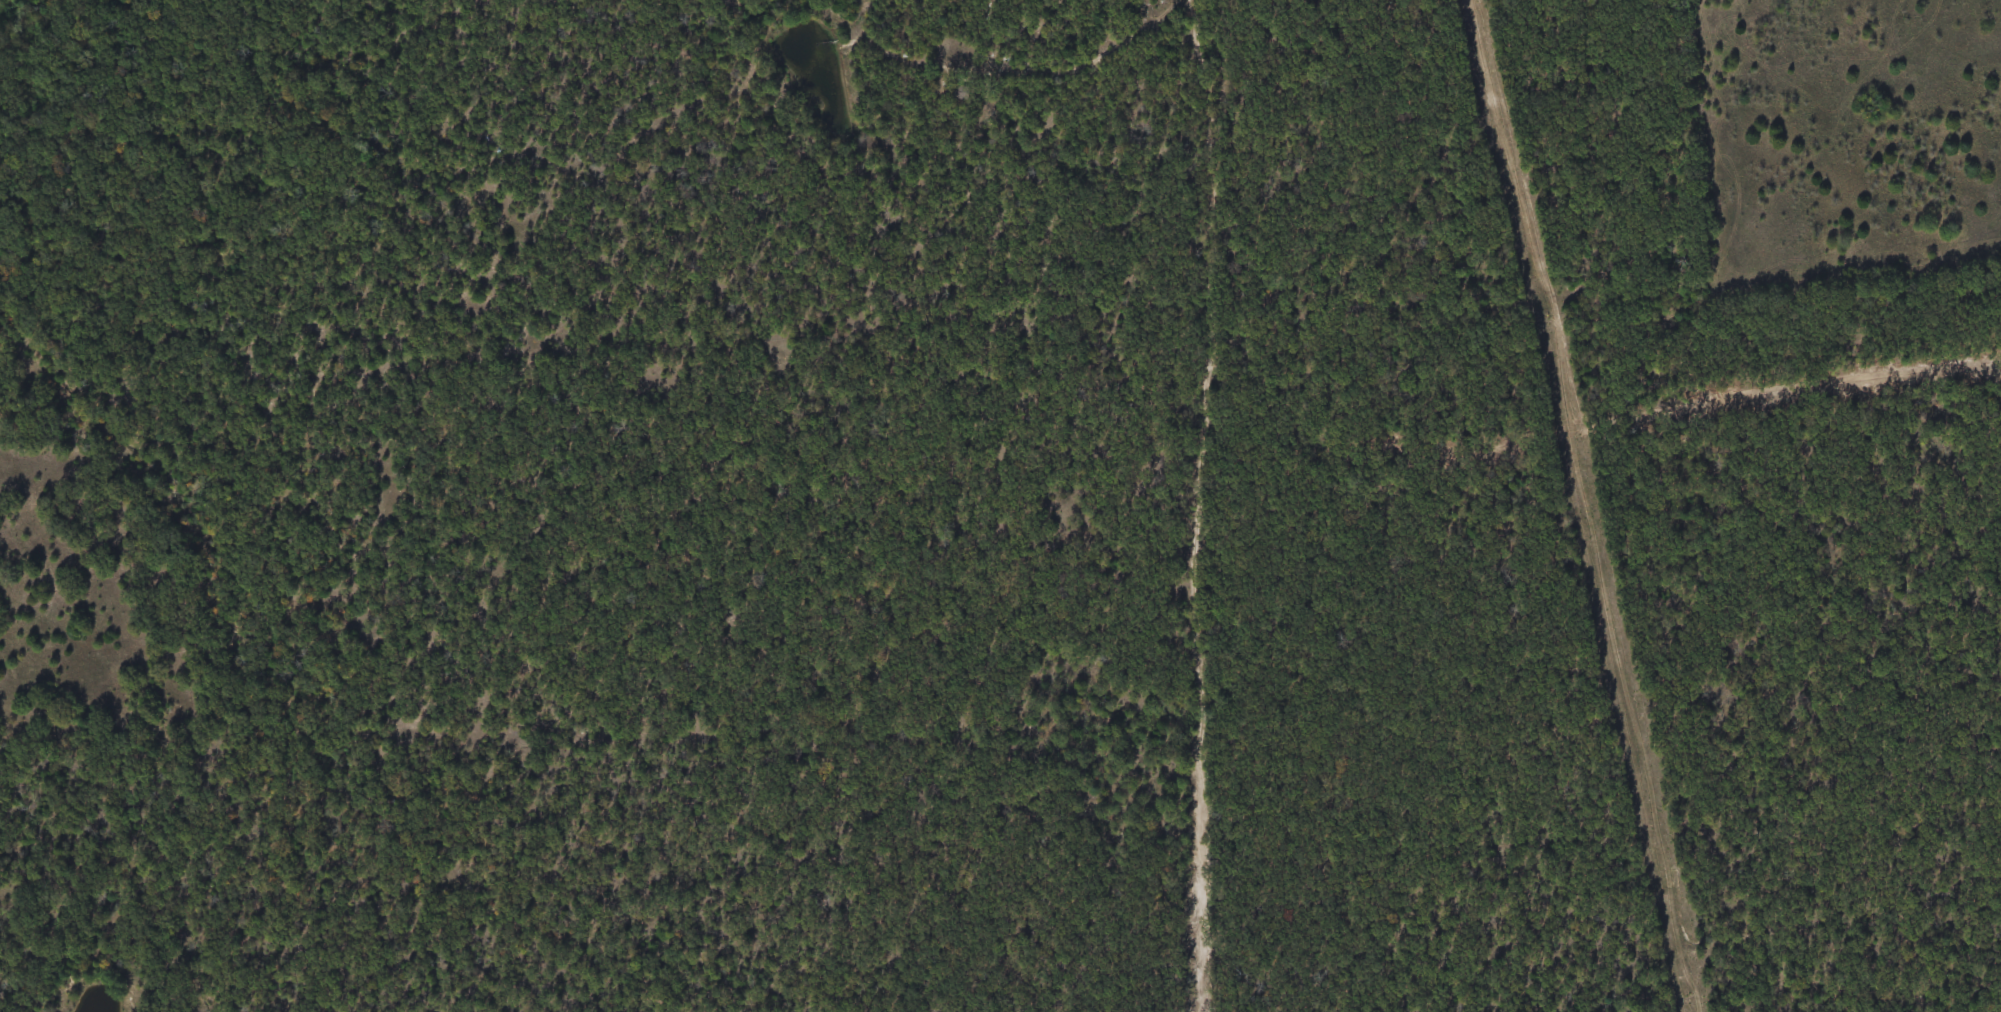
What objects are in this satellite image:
building: (956, 92)

